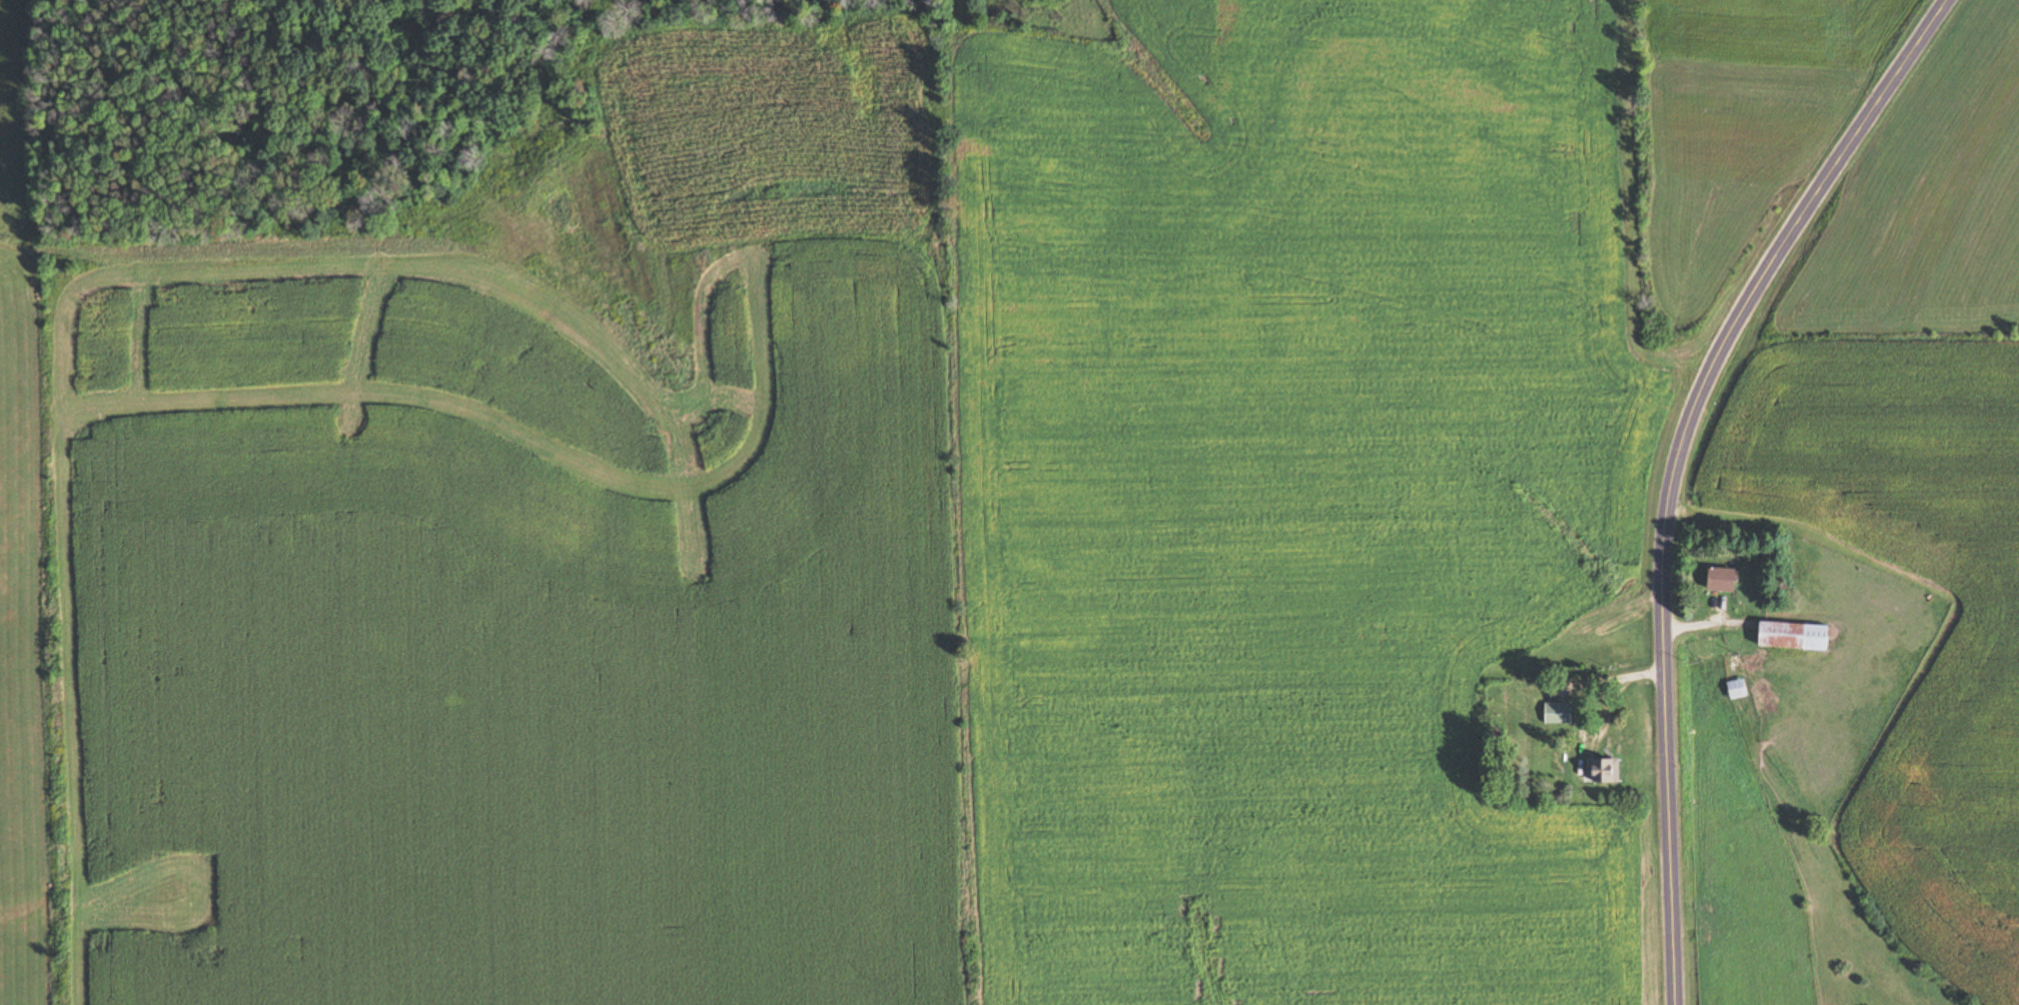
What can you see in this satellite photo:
crop: (1755, 124)
crop: (1929, 202)
crop: (2015, 328)
road: (1673, 464)
building: (1725, 580)
crop: (1905, 607)
building: (1796, 636)
building: (1736, 689)
crop: (1831, 705)
building: (1557, 713)
crop: (1727, 757)
building: (1598, 770)
crop: (1786, 919)

